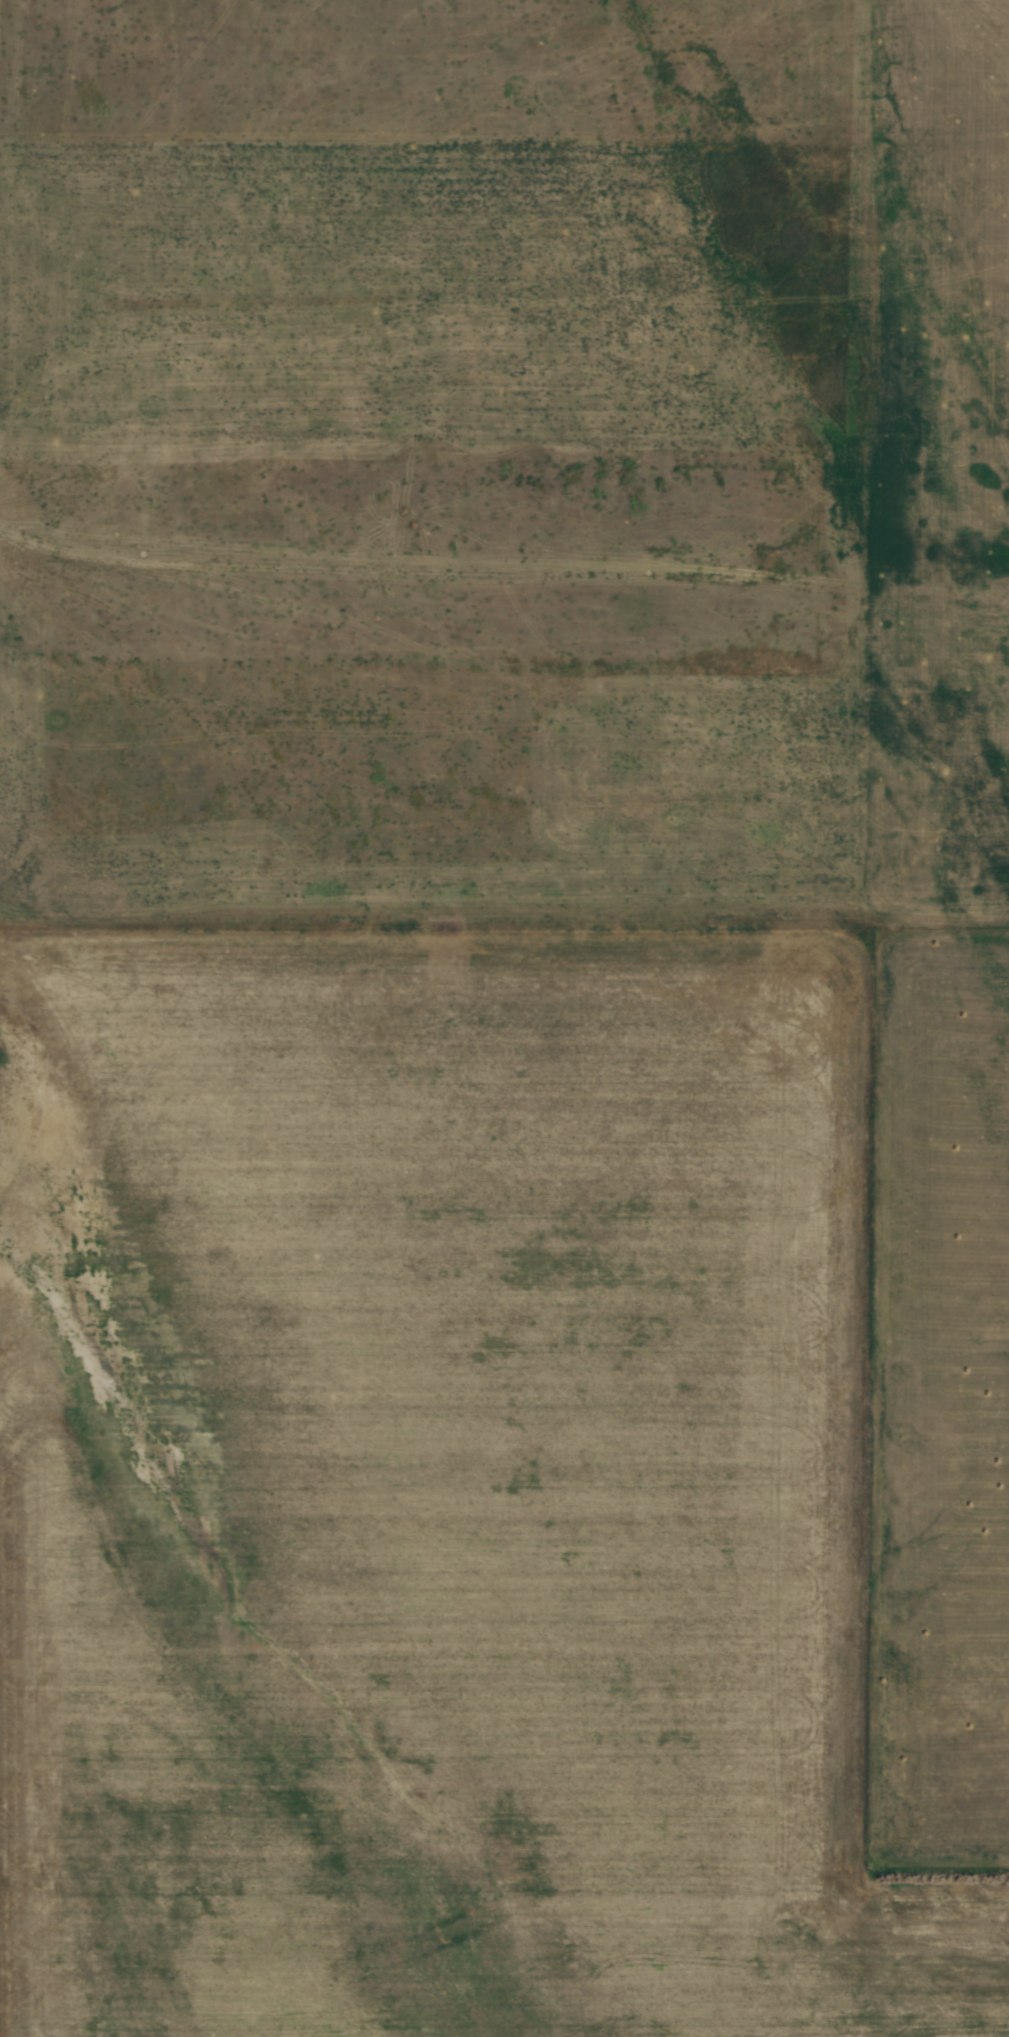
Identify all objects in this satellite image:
building: (944, 1880)

